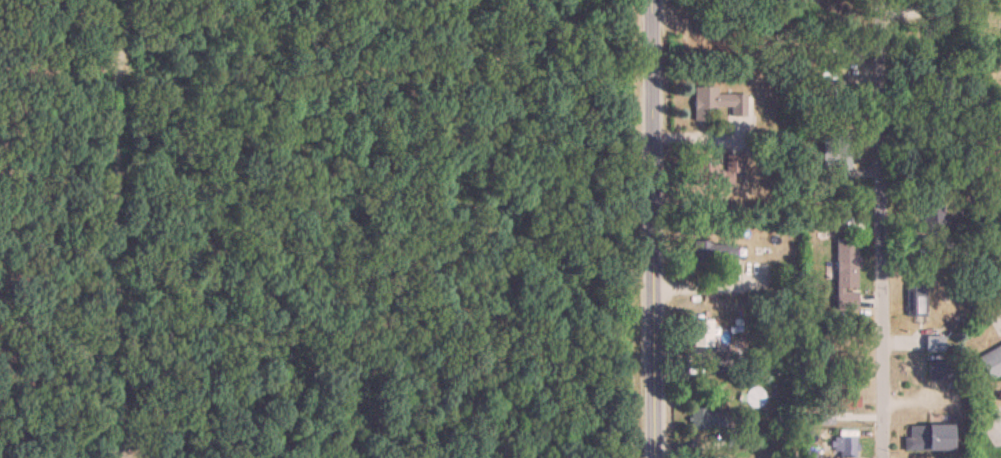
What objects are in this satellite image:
building: (830, 88)
building: (716, 102)
road: (701, 138)
building: (838, 152)
building: (714, 170)
building: (930, 216)
road: (650, 228)
road: (881, 229)
building: (723, 262)
building: (845, 274)
road: (703, 290)
building: (914, 300)
building: (701, 333)
building: (933, 343)
building: (991, 362)
building: (939, 371)
building: (835, 406)
building: (707, 420)
road: (1000, 425)
road: (106, 427)
building: (927, 438)
building: (845, 447)

